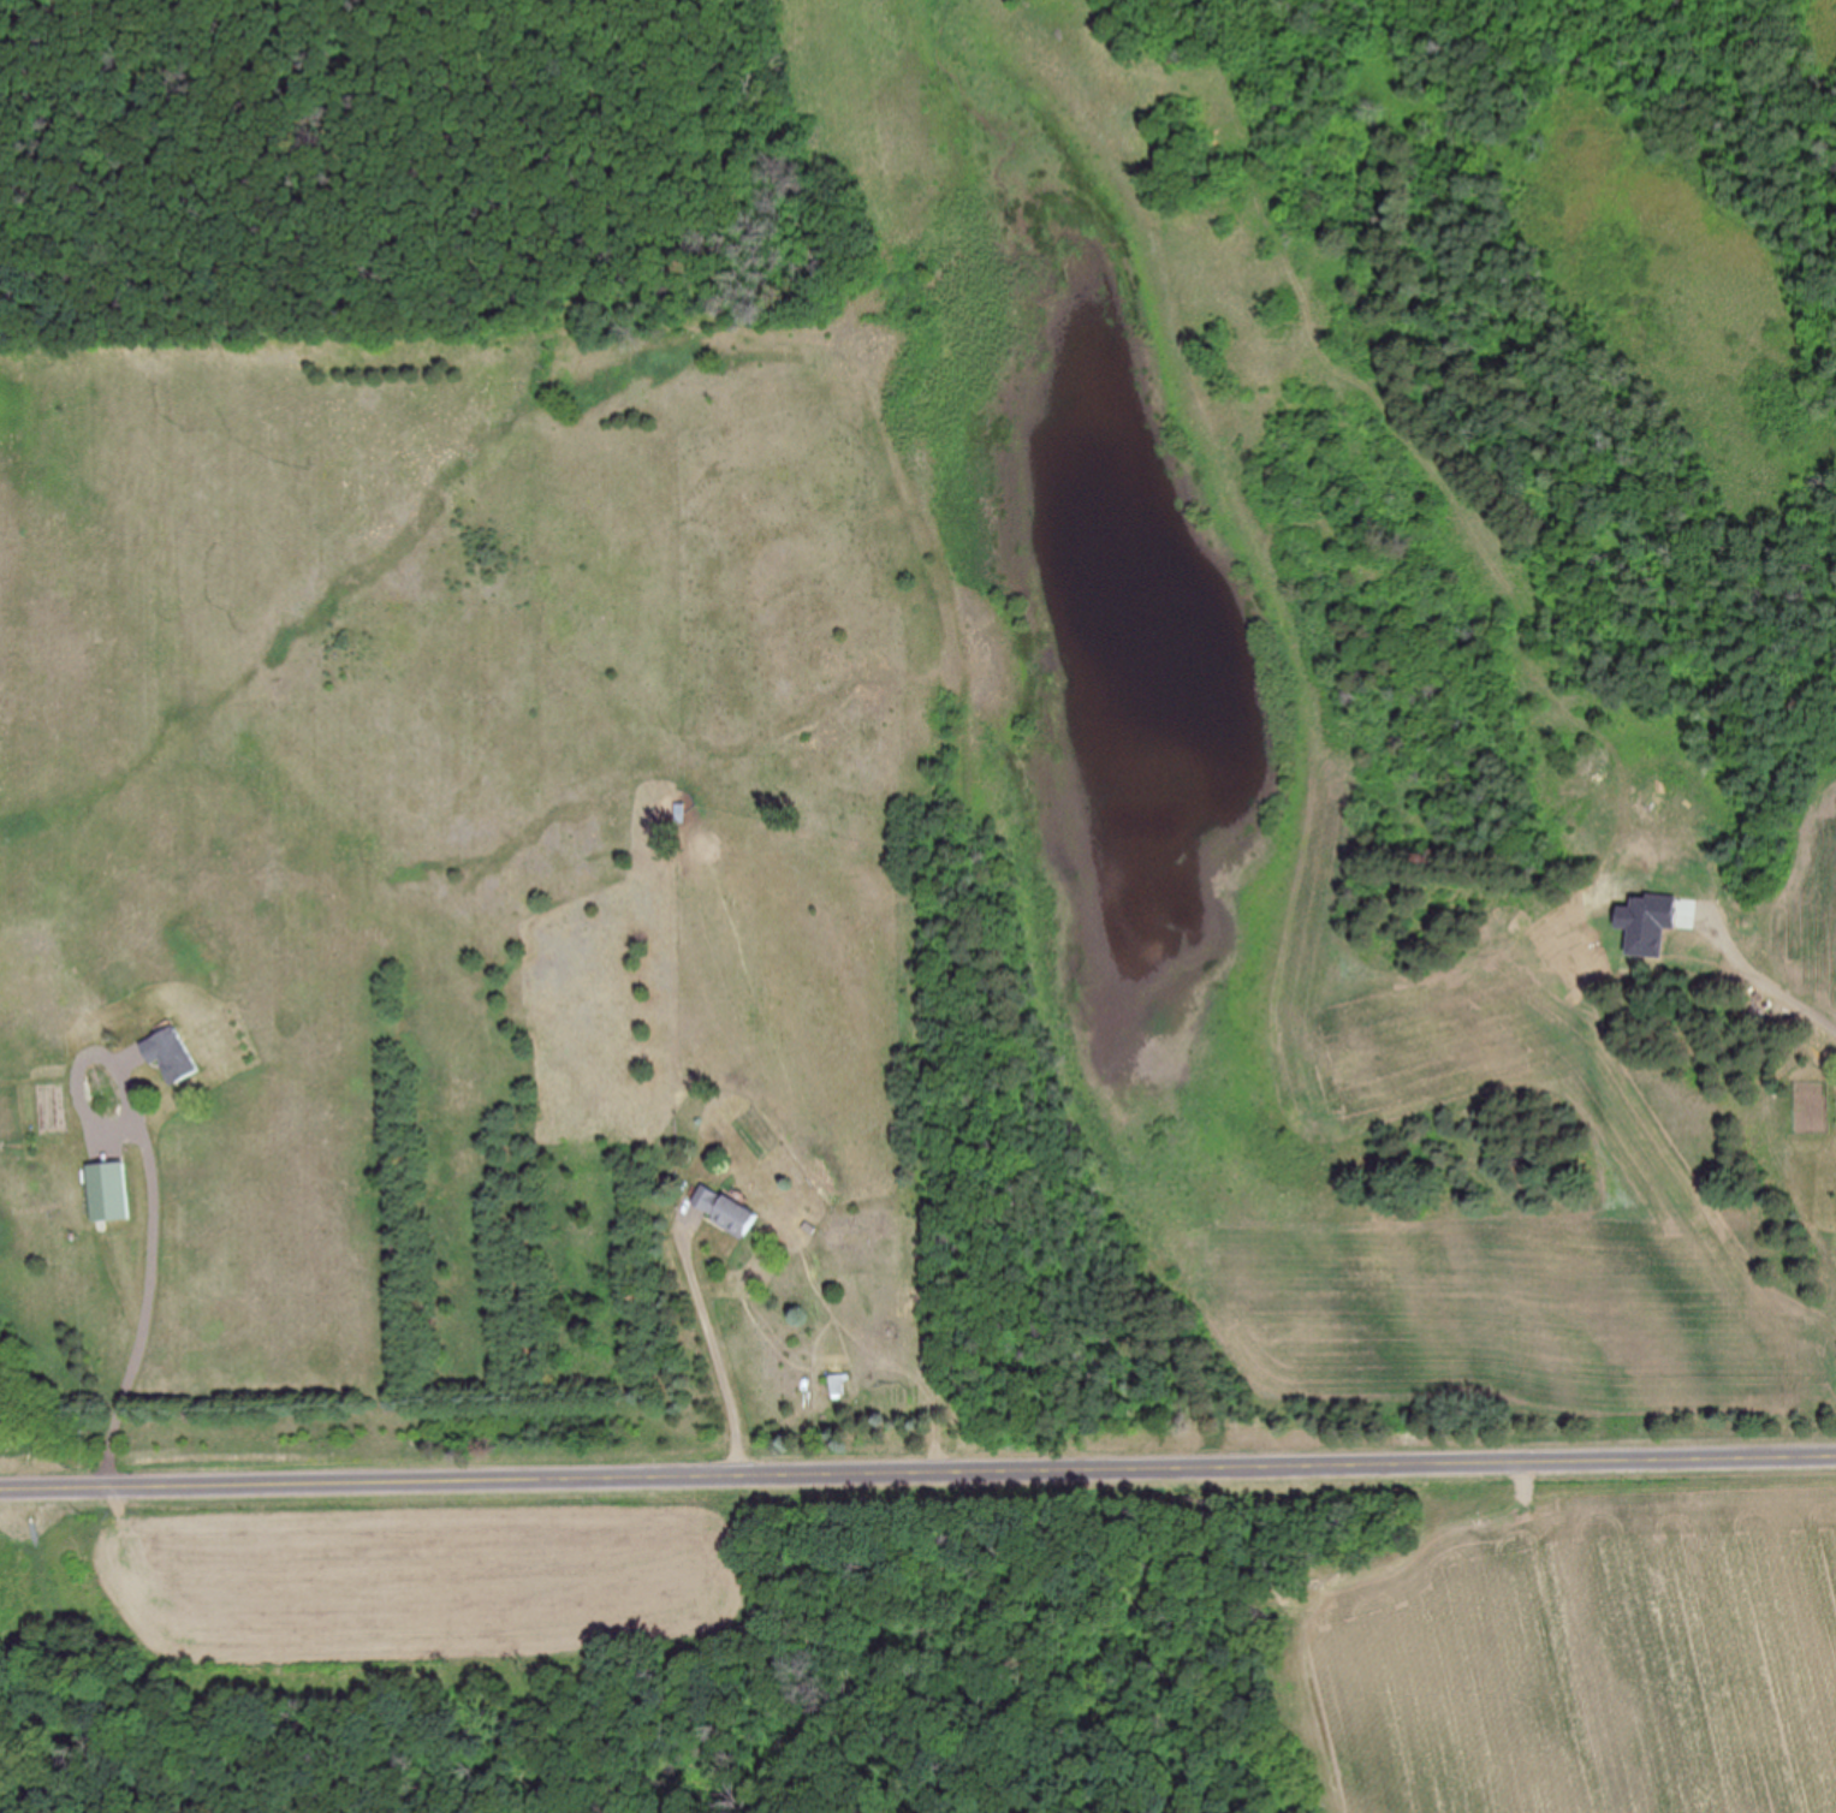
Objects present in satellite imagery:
building: (677, 815)
building: (168, 1056)
building: (108, 1191)
building: (723, 1211)
building: (836, 1389)
road: (917, 1473)

